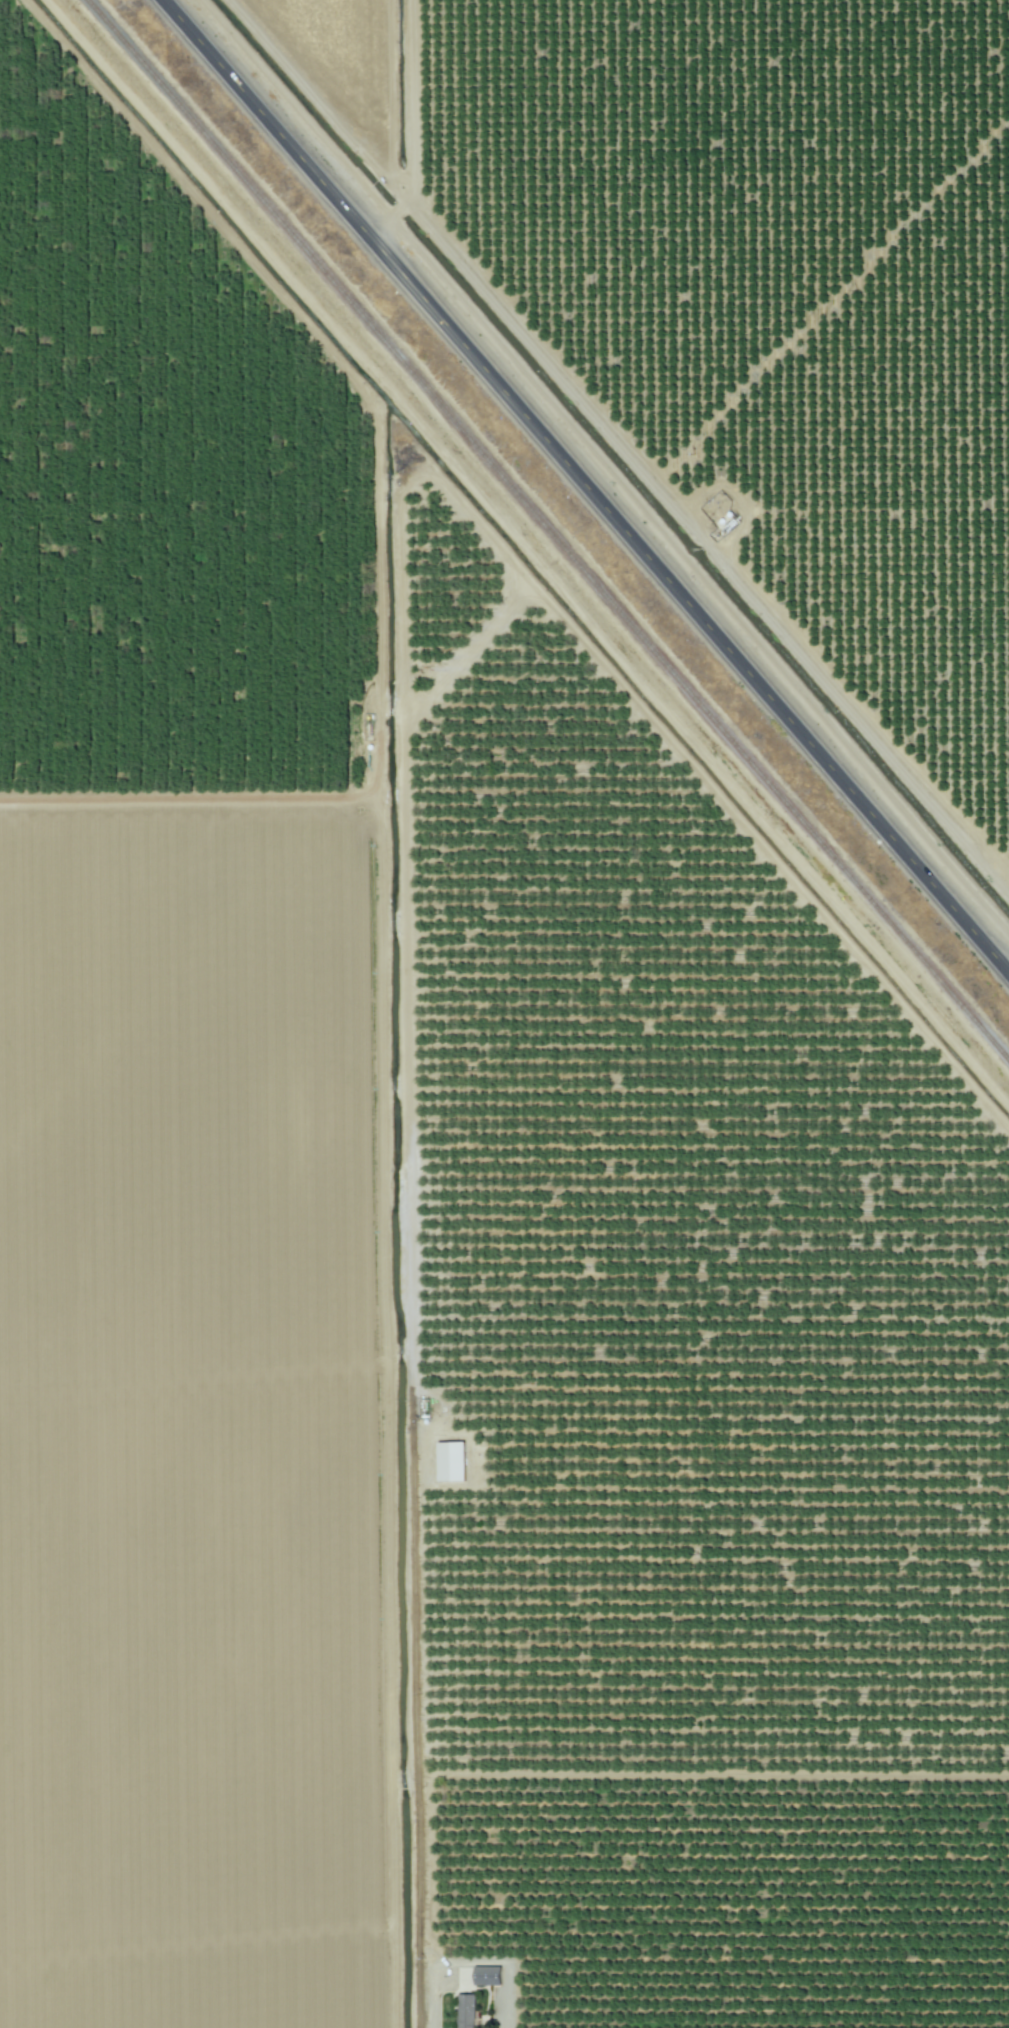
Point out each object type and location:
crop: (732, 319)
road: (585, 486)
railway: (547, 531)
building: (576, 704)
crop: (434, 1283)
building: (468, 2012)

